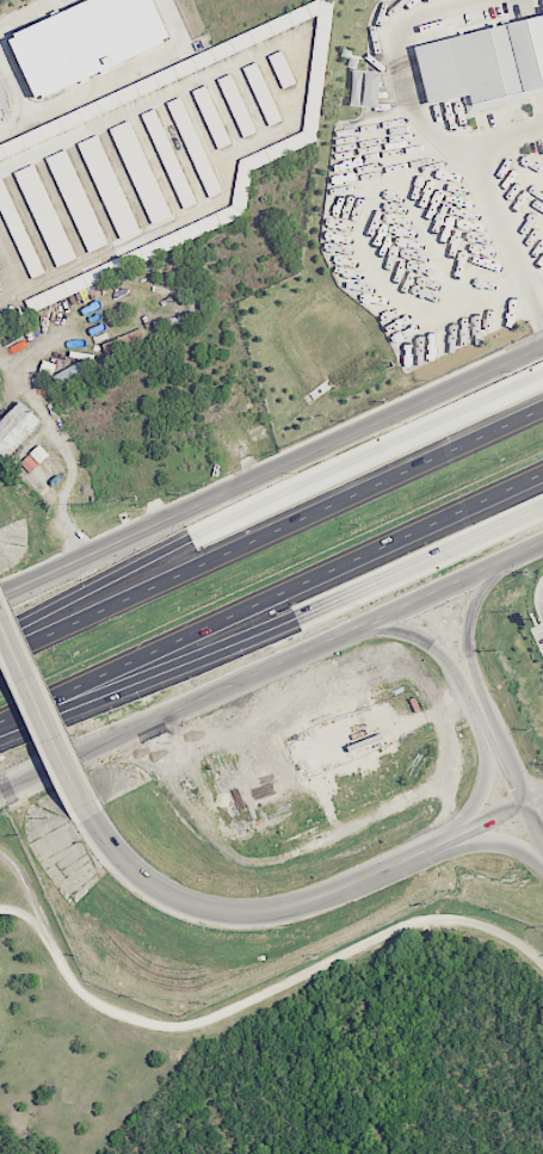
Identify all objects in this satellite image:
road: (30, 13)
building: (86, 41)
road: (401, 51)
building: (485, 66)
road: (111, 79)
building: (365, 88)
building: (261, 93)
building: (2, 103)
building: (236, 105)
building: (211, 117)
road: (507, 135)
building: (193, 147)
building: (168, 158)
building: (140, 172)
building: (109, 187)
building: (76, 200)
building: (44, 215)
road: (507, 228)
building: (116, 344)
building: (16, 428)
road: (67, 452)
road: (271, 475)
road: (271, 507)
road: (271, 532)
road: (271, 595)
road: (274, 629)
road: (473, 629)
road: (434, 647)
road: (271, 665)
road: (42, 715)
road: (508, 760)
road: (485, 789)
road: (536, 806)
road: (536, 823)
road: (501, 843)
road: (292, 905)
road: (31, 920)
road: (237, 1010)

